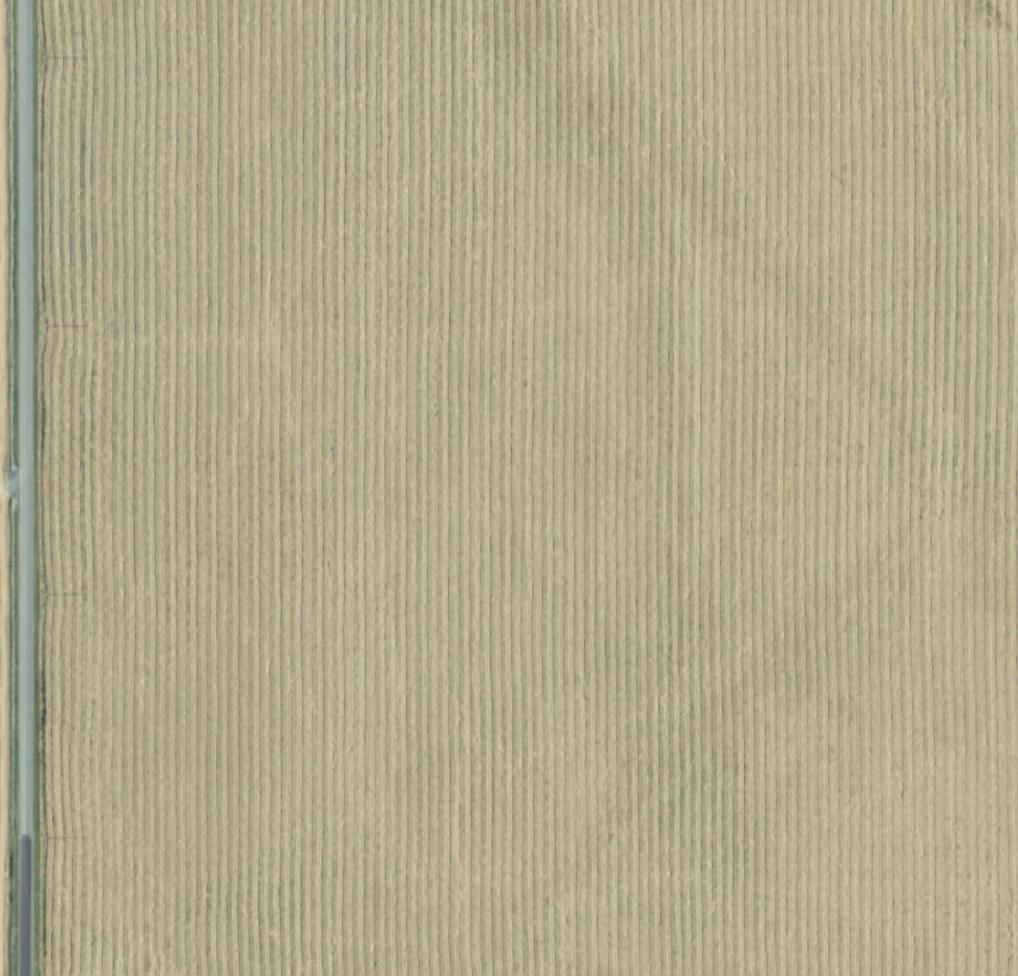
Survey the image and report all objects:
road: (16, 488)
crop: (509, 488)

